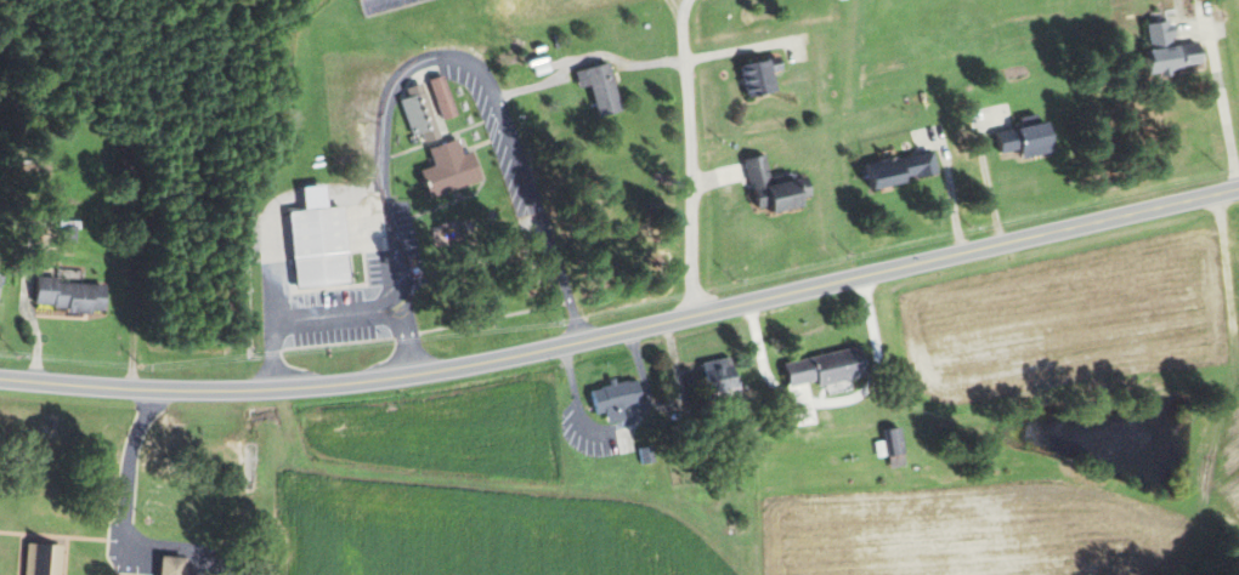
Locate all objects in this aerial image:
park: (384, 5)
road: (736, 49)
building: (1173, 51)
road: (462, 63)
building: (764, 78)
building: (604, 87)
building: (443, 97)
road: (1221, 106)
building: (1030, 137)
building: (440, 147)
road: (684, 156)
building: (904, 170)
building: (779, 189)
road: (990, 190)
road: (950, 199)
building: (322, 244)
building: (1, 286)
building: (74, 295)
road: (336, 314)
road: (624, 330)
building: (831, 368)
building: (724, 377)
road: (833, 400)
building: (619, 402)
building: (896, 448)
road: (124, 518)
building: (46, 558)
building: (175, 564)

